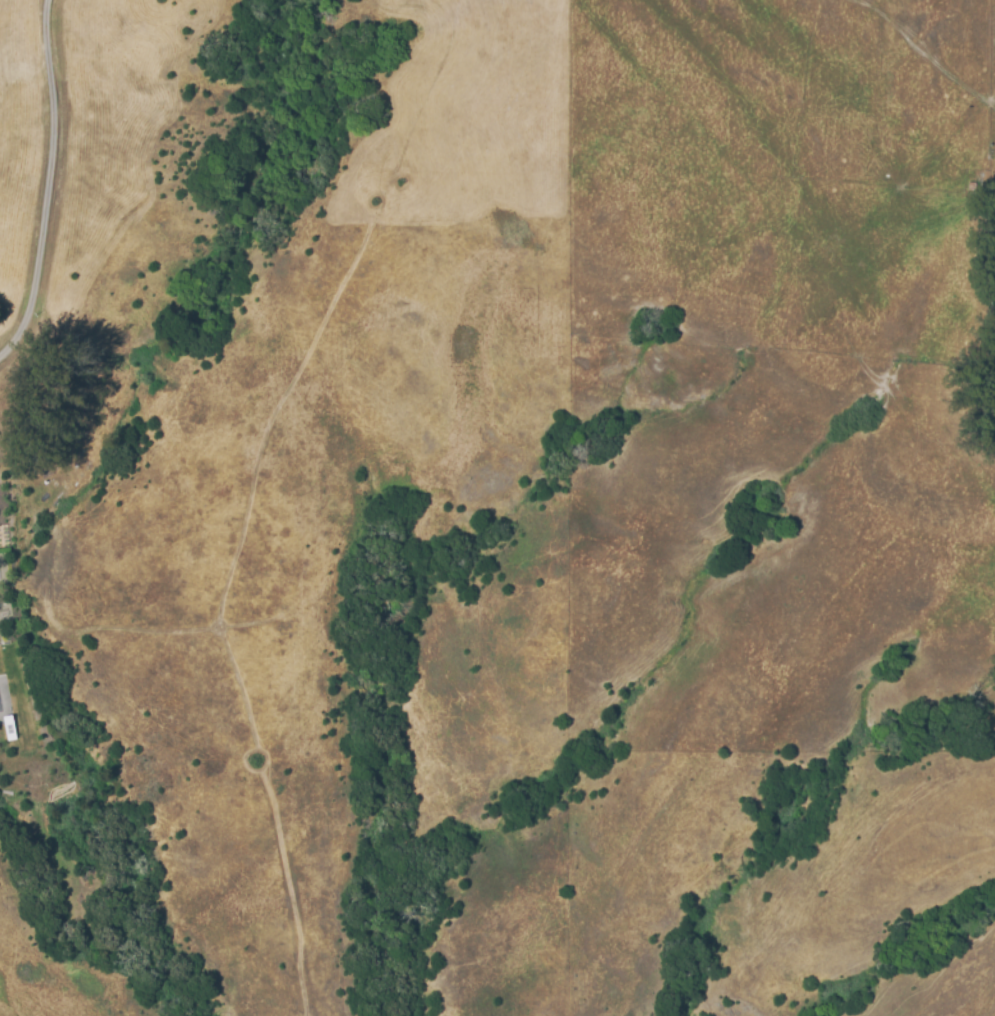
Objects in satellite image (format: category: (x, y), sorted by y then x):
road: (58, 187)
building: (975, 191)
building: (9, 728)

